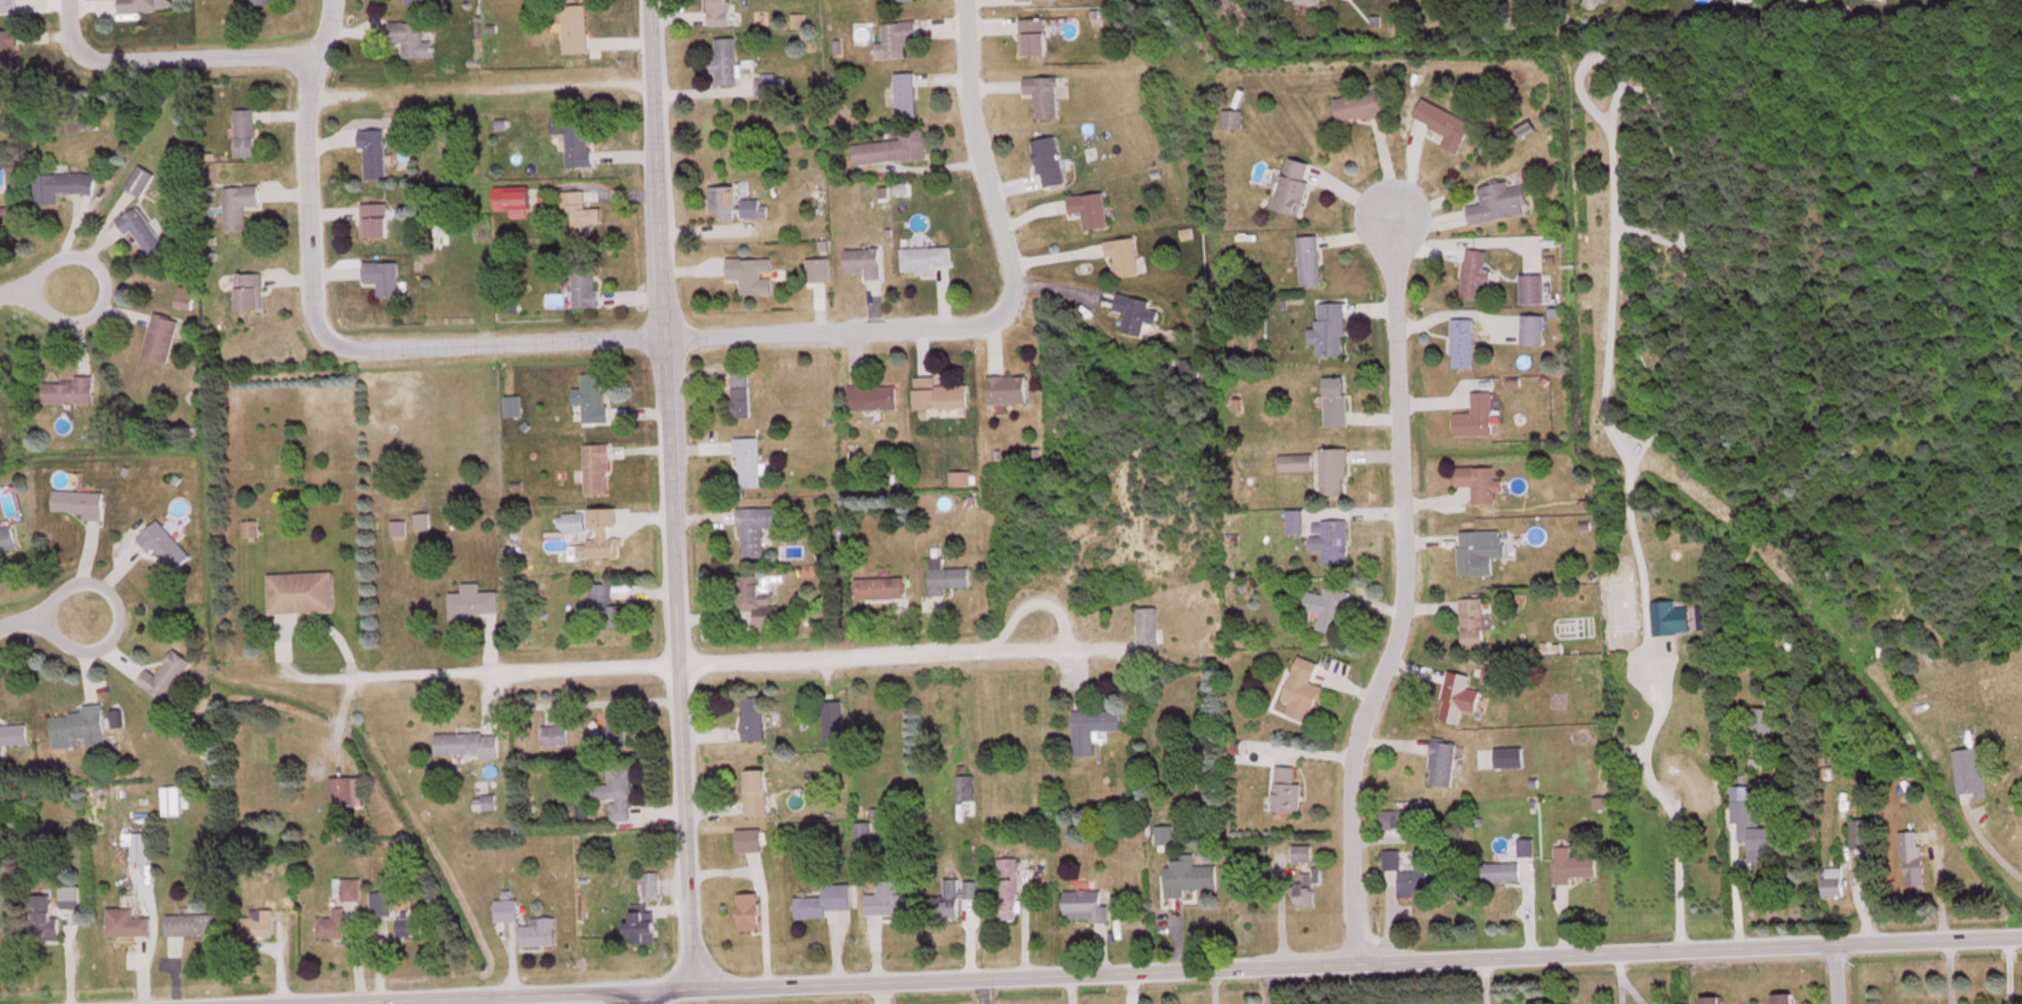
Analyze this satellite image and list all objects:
building: (414, 0)
building: (1018, 0)
building: (1301, 0)
building: (1599, 0)
building: (257, 1)
building: (137, 4)
building: (8, 5)
building: (717, 11)
building: (573, 27)
building: (1031, 35)
building: (409, 37)
building: (894, 38)
building: (7, 56)
building: (724, 59)
road: (166, 61)
building: (769, 83)
building: (904, 92)
building: (1041, 93)
building: (1357, 104)
building: (1230, 117)
building: (1443, 122)
building: (243, 131)
building: (571, 137)
building: (892, 147)
building: (371, 151)
road: (979, 158)
building: (1047, 160)
building: (60, 184)
building: (1291, 184)
building: (722, 199)
building: (509, 200)
building: (1497, 201)
building: (237, 204)
building: (750, 207)
building: (1089, 208)
building: (580, 211)
building: (2, 216)
building: (373, 218)
building: (139, 229)
building: (1121, 255)
building: (924, 258)
building: (1307, 259)
building: (862, 261)
building: (816, 269)
building: (1473, 273)
building: (747, 274)
building: (381, 276)
building: (582, 281)
road: (37, 288)
building: (1530, 288)
building: (247, 291)
building: (1134, 312)
building: (1329, 329)
building: (1531, 329)
road: (834, 330)
building: (158, 338)
road: (321, 338)
building: (1461, 342)
building: (1188, 367)
building: (1005, 389)
building: (67, 390)
building: (739, 393)
building: (937, 394)
building: (870, 396)
building: (590, 397)
building: (1334, 402)
building: (511, 405)
building: (1474, 416)
building: (746, 461)
building: (594, 468)
building: (1331, 470)
building: (1478, 482)
road: (670, 493)
building: (78, 502)
building: (420, 520)
building: (396, 527)
building: (753, 529)
building: (590, 531)
building: (1319, 533)
building: (6, 538)
building: (162, 544)
building: (1477, 550)
building: (944, 575)
building: (877, 586)
road: (1400, 590)
building: (300, 591)
building: (755, 597)
building: (470, 601)
building: (604, 605)
building: (1326, 607)
road: (41, 614)
building: (1471, 622)
building: (1146, 628)
building: (1792, 644)
road: (669, 658)
building: (1490, 674)
building: (164, 675)
building: (1301, 690)
building: (1456, 696)
building: (751, 717)
building: (832, 720)
building: (78, 727)
building: (1091, 727)
building: (13, 734)
building: (553, 734)
building: (465, 743)
building: (1441, 761)
building: (1968, 771)
building: (964, 786)
building: (1285, 788)
building: (754, 791)
building: (615, 792)
building: (1699, 792)
building: (170, 800)
road: (1659, 800)
building: (1751, 824)
building: (862, 833)
building: (1862, 833)
building: (1163, 834)
building: (747, 839)
building: (138, 846)
building: (1525, 846)
building: (1301, 853)
building: (1911, 863)
building: (1573, 867)
building: (1499, 871)
building: (1834, 872)
building: (1187, 874)
building: (649, 884)
building: (345, 887)
building: (1306, 887)
building: (1007, 888)
building: (954, 895)
building: (69, 896)
building: (887, 899)
building: (822, 900)
building: (380, 902)
building: (1084, 904)
building: (505, 909)
building: (747, 910)
building: (41, 918)
building: (126, 922)
building: (256, 922)
building: (190, 923)
building: (331, 923)
building: (408, 925)
building: (639, 926)
building: (537, 931)
road: (1134, 969)
road: (1834, 973)
road: (640, 997)
building: (1781, 997)
building: (1710, 998)

